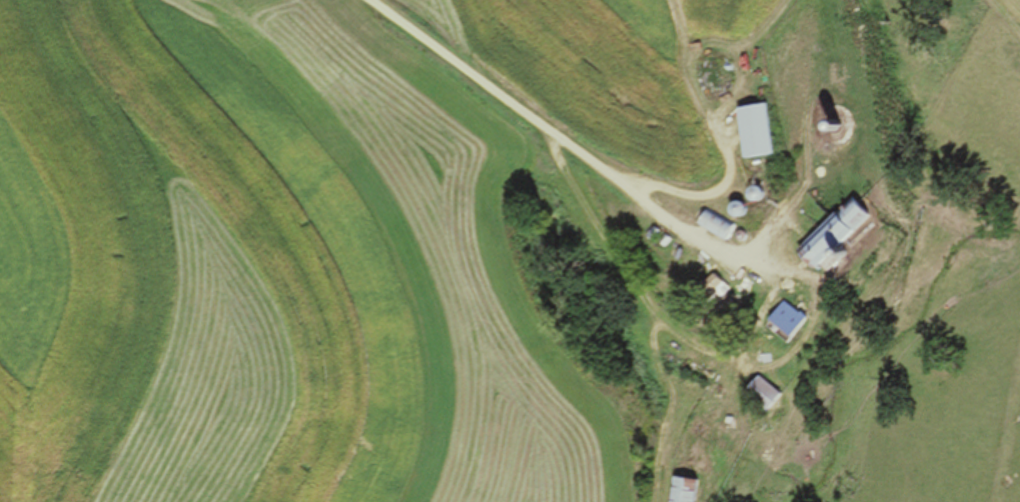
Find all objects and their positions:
road: (540, 132)
building: (749, 133)
building: (711, 227)
building: (826, 240)
building: (706, 292)
building: (785, 321)
building: (755, 394)
building: (679, 490)

